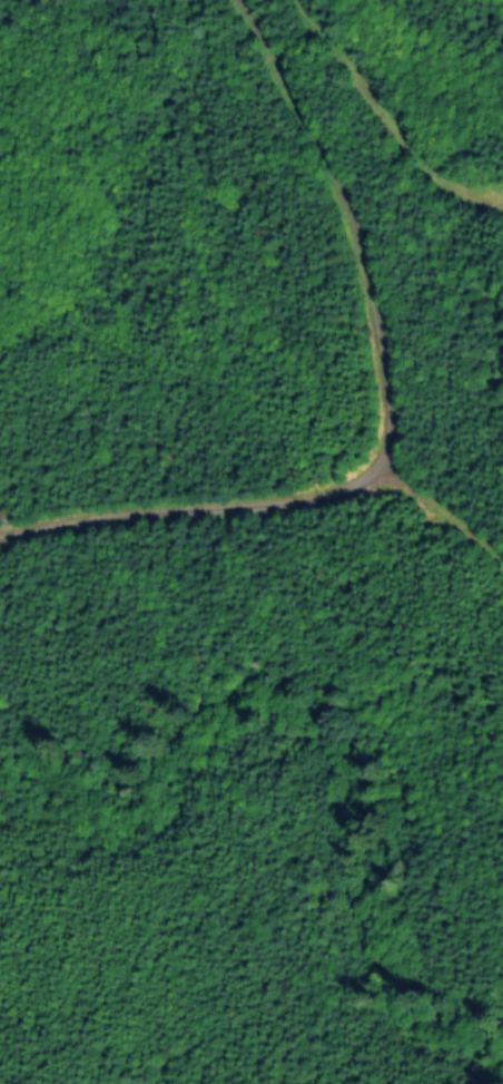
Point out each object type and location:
road: (418, 419)

